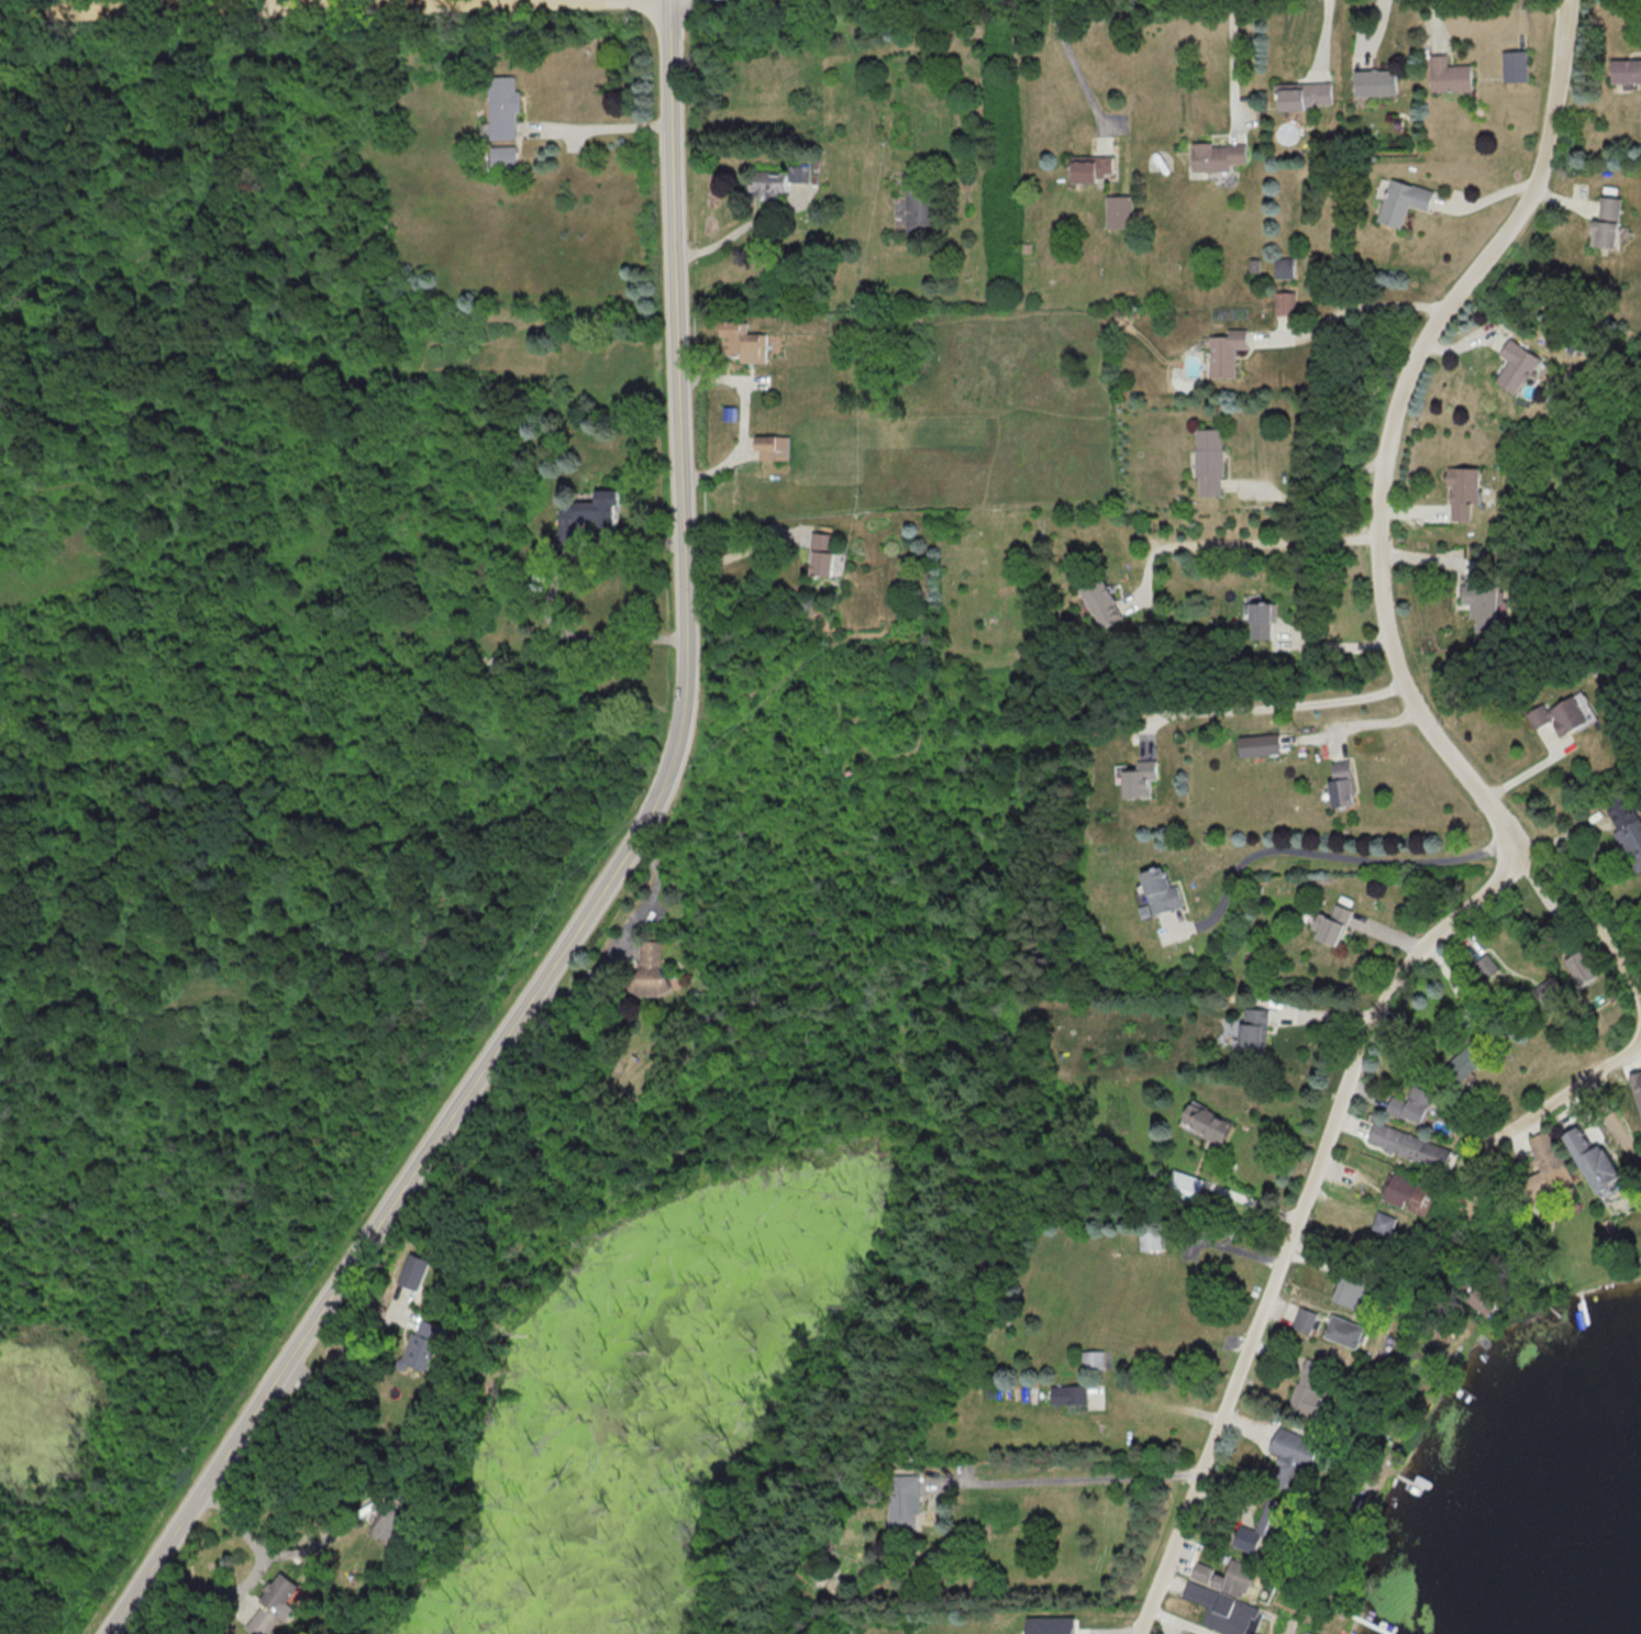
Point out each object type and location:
road: (126, 3)
road: (1073, 63)
road: (1237, 64)
building: (1517, 66)
building: (1627, 70)
building: (1452, 76)
building: (1381, 82)
building: (1308, 95)
building: (506, 108)
road: (613, 125)
building: (506, 155)
building: (1219, 156)
building: (1095, 169)
building: (778, 181)
road: (1493, 194)
building: (1406, 202)
building: (921, 211)
building: (1121, 212)
building: (1609, 223)
building: (1285, 268)
building: (1286, 303)
road: (1355, 307)
building: (744, 344)
building: (1228, 353)
building: (1519, 367)
road: (741, 420)
building: (773, 448)
building: (1211, 463)
road: (1318, 487)
building: (1465, 493)
road: (1383, 507)
building: (603, 510)
road: (1246, 540)
road: (744, 548)
building: (824, 556)
road: (546, 598)
building: (1106, 602)
building: (1484, 603)
building: (1263, 621)
road: (1286, 701)
building: (1553, 716)
park: (254, 731)
building: (1134, 778)
building: (1335, 785)
building: (1623, 825)
road: (1321, 853)
road: (602, 877)
building: (1155, 891)
building: (1328, 925)
road: (622, 933)
building: (1483, 966)
building: (1575, 966)
building: (643, 967)
building: (1544, 991)
road: (1323, 1016)
building: (1246, 1029)
building: (1461, 1058)
road: (1568, 1088)
building: (1633, 1088)
building: (1407, 1104)
building: (1202, 1121)
building: (1404, 1144)
building: (1583, 1155)
building: (1537, 1163)
building: (1180, 1185)
building: (1404, 1192)
building: (1379, 1222)
road: (1302, 1225)
building: (1346, 1293)
building: (1339, 1330)
building: (415, 1343)
road: (335, 1358)
building: (1090, 1358)
building: (1302, 1388)
building: (1066, 1394)
building: (1285, 1455)
road: (1086, 1480)
building: (901, 1502)
building: (1265, 1518)
building: (379, 1525)
road: (247, 1574)
building: (1220, 1575)
building: (265, 1610)
building: (1217, 1610)
building: (1302, 1633)

